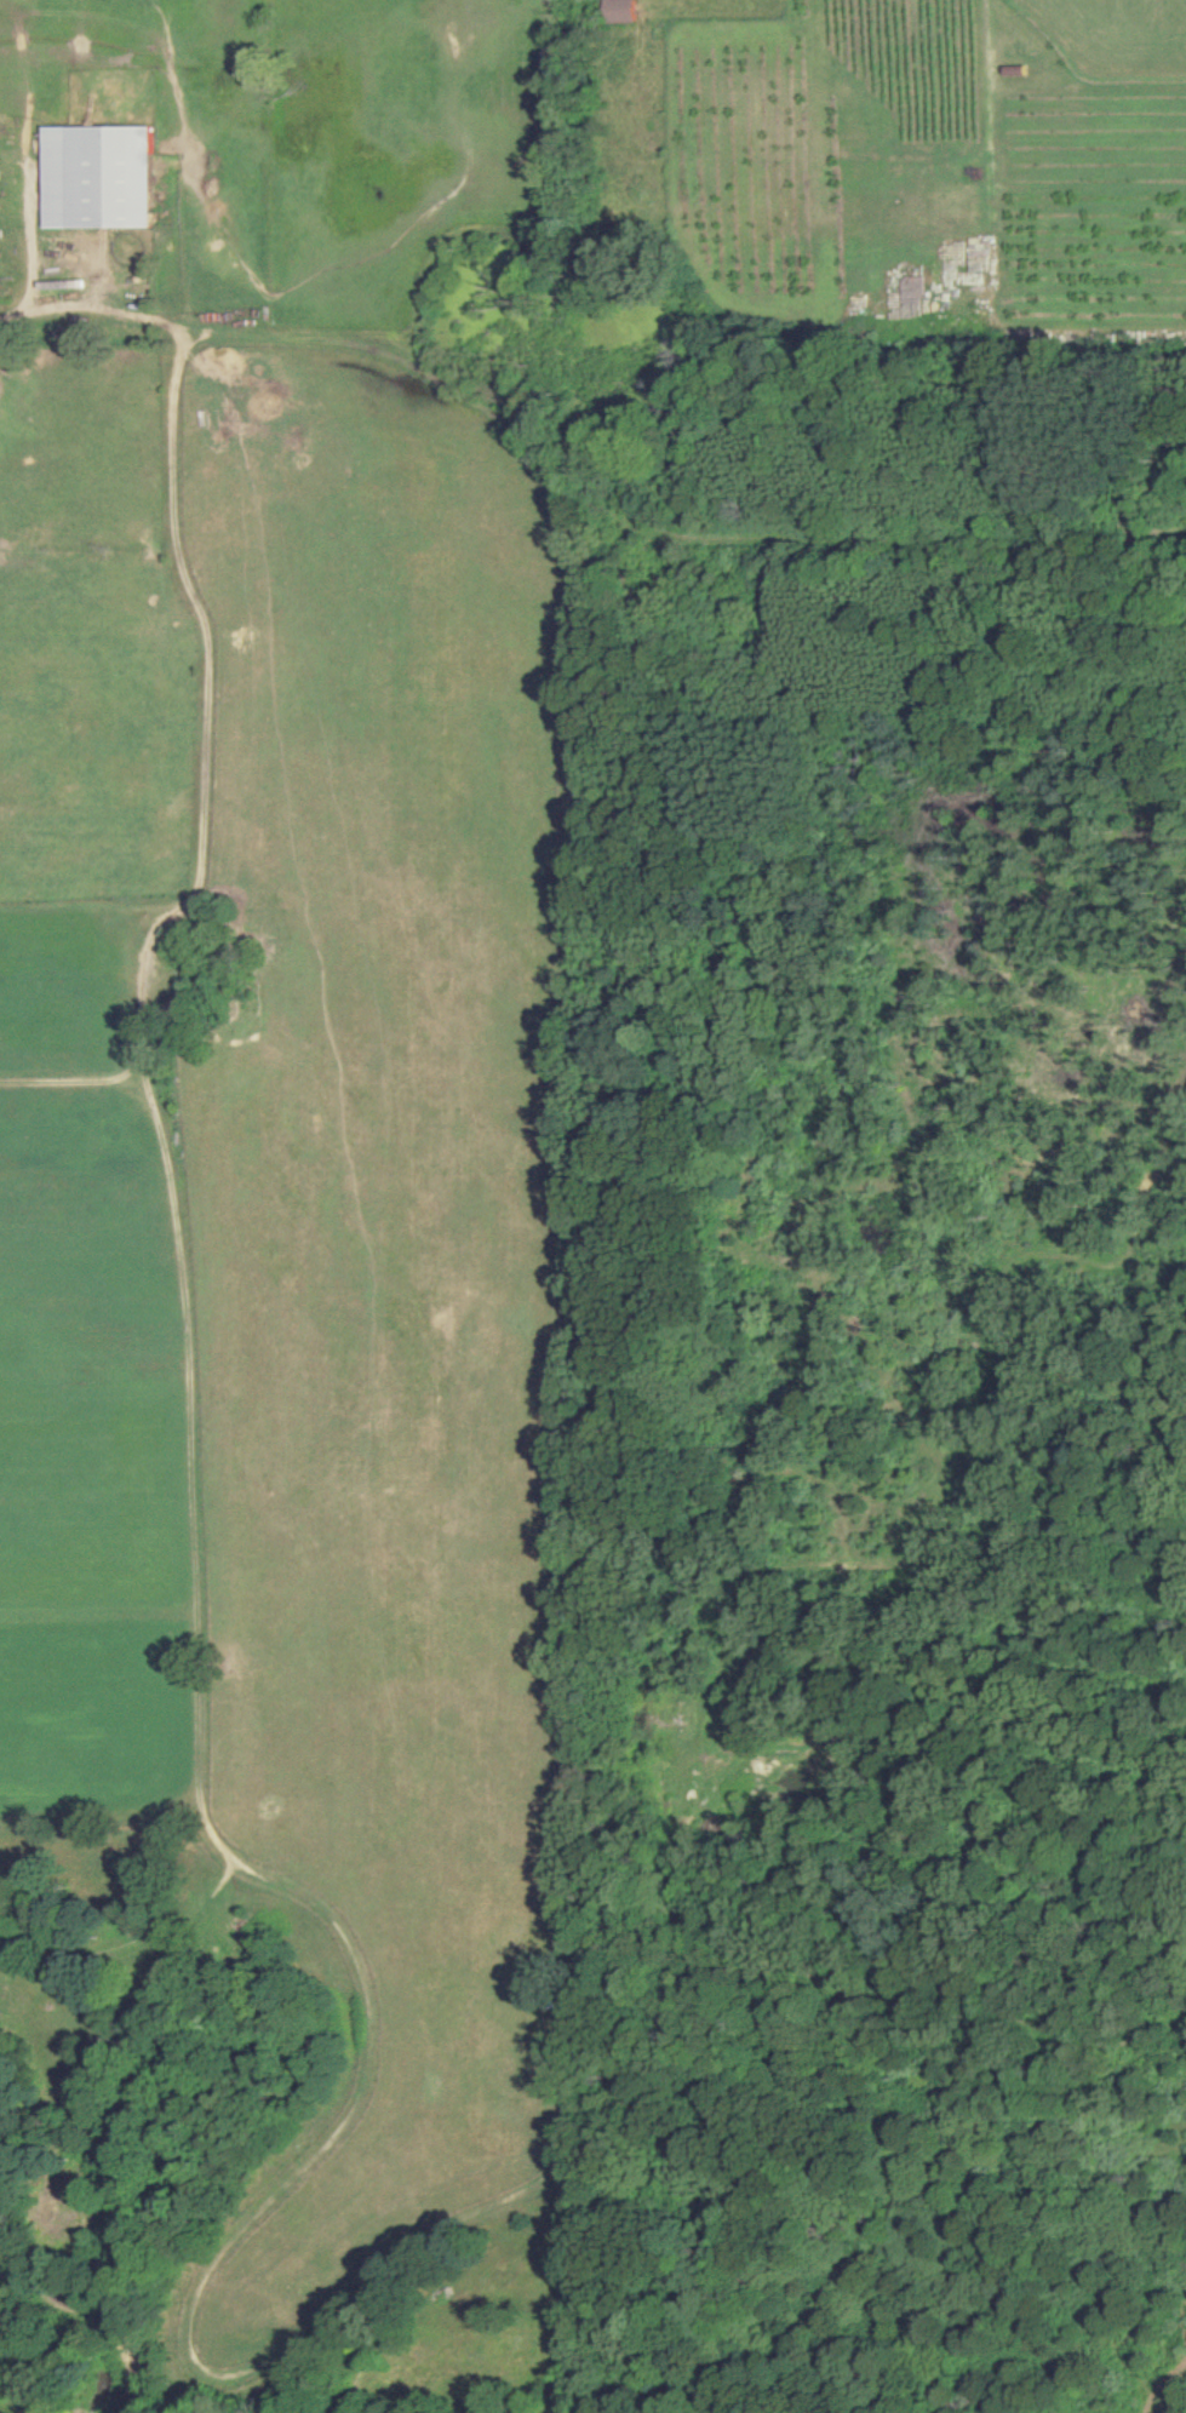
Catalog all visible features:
building: (101, 177)

